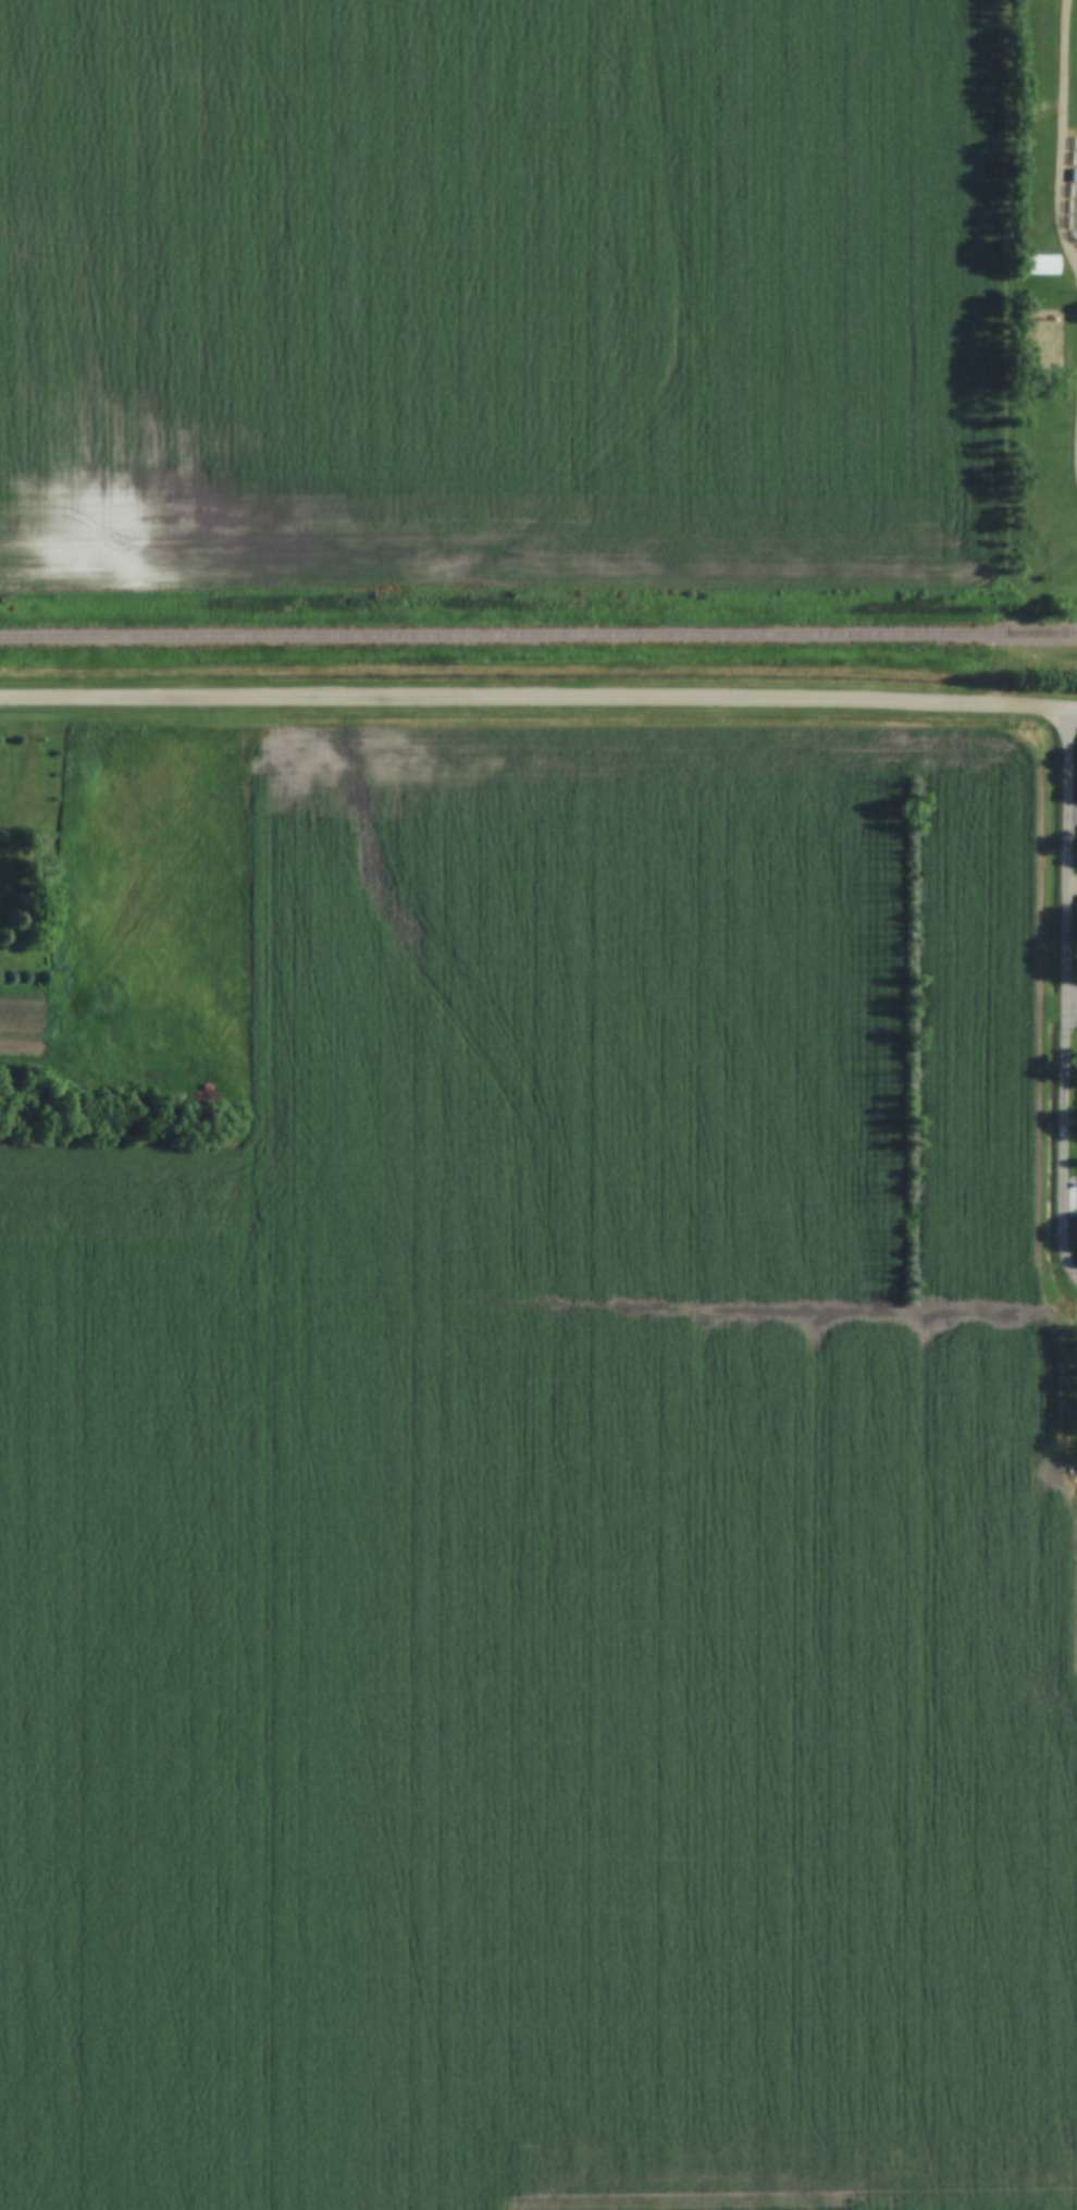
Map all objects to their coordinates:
road: (1059, 140)
park: (1076, 208)
building: (1042, 266)
park: (1041, 343)
road: (1076, 451)
road: (1076, 475)
railway: (1043, 633)
railway: (538, 636)
road: (24, 698)
road: (561, 702)
road: (1076, 711)
road: (1070, 993)
road: (1074, 1008)

